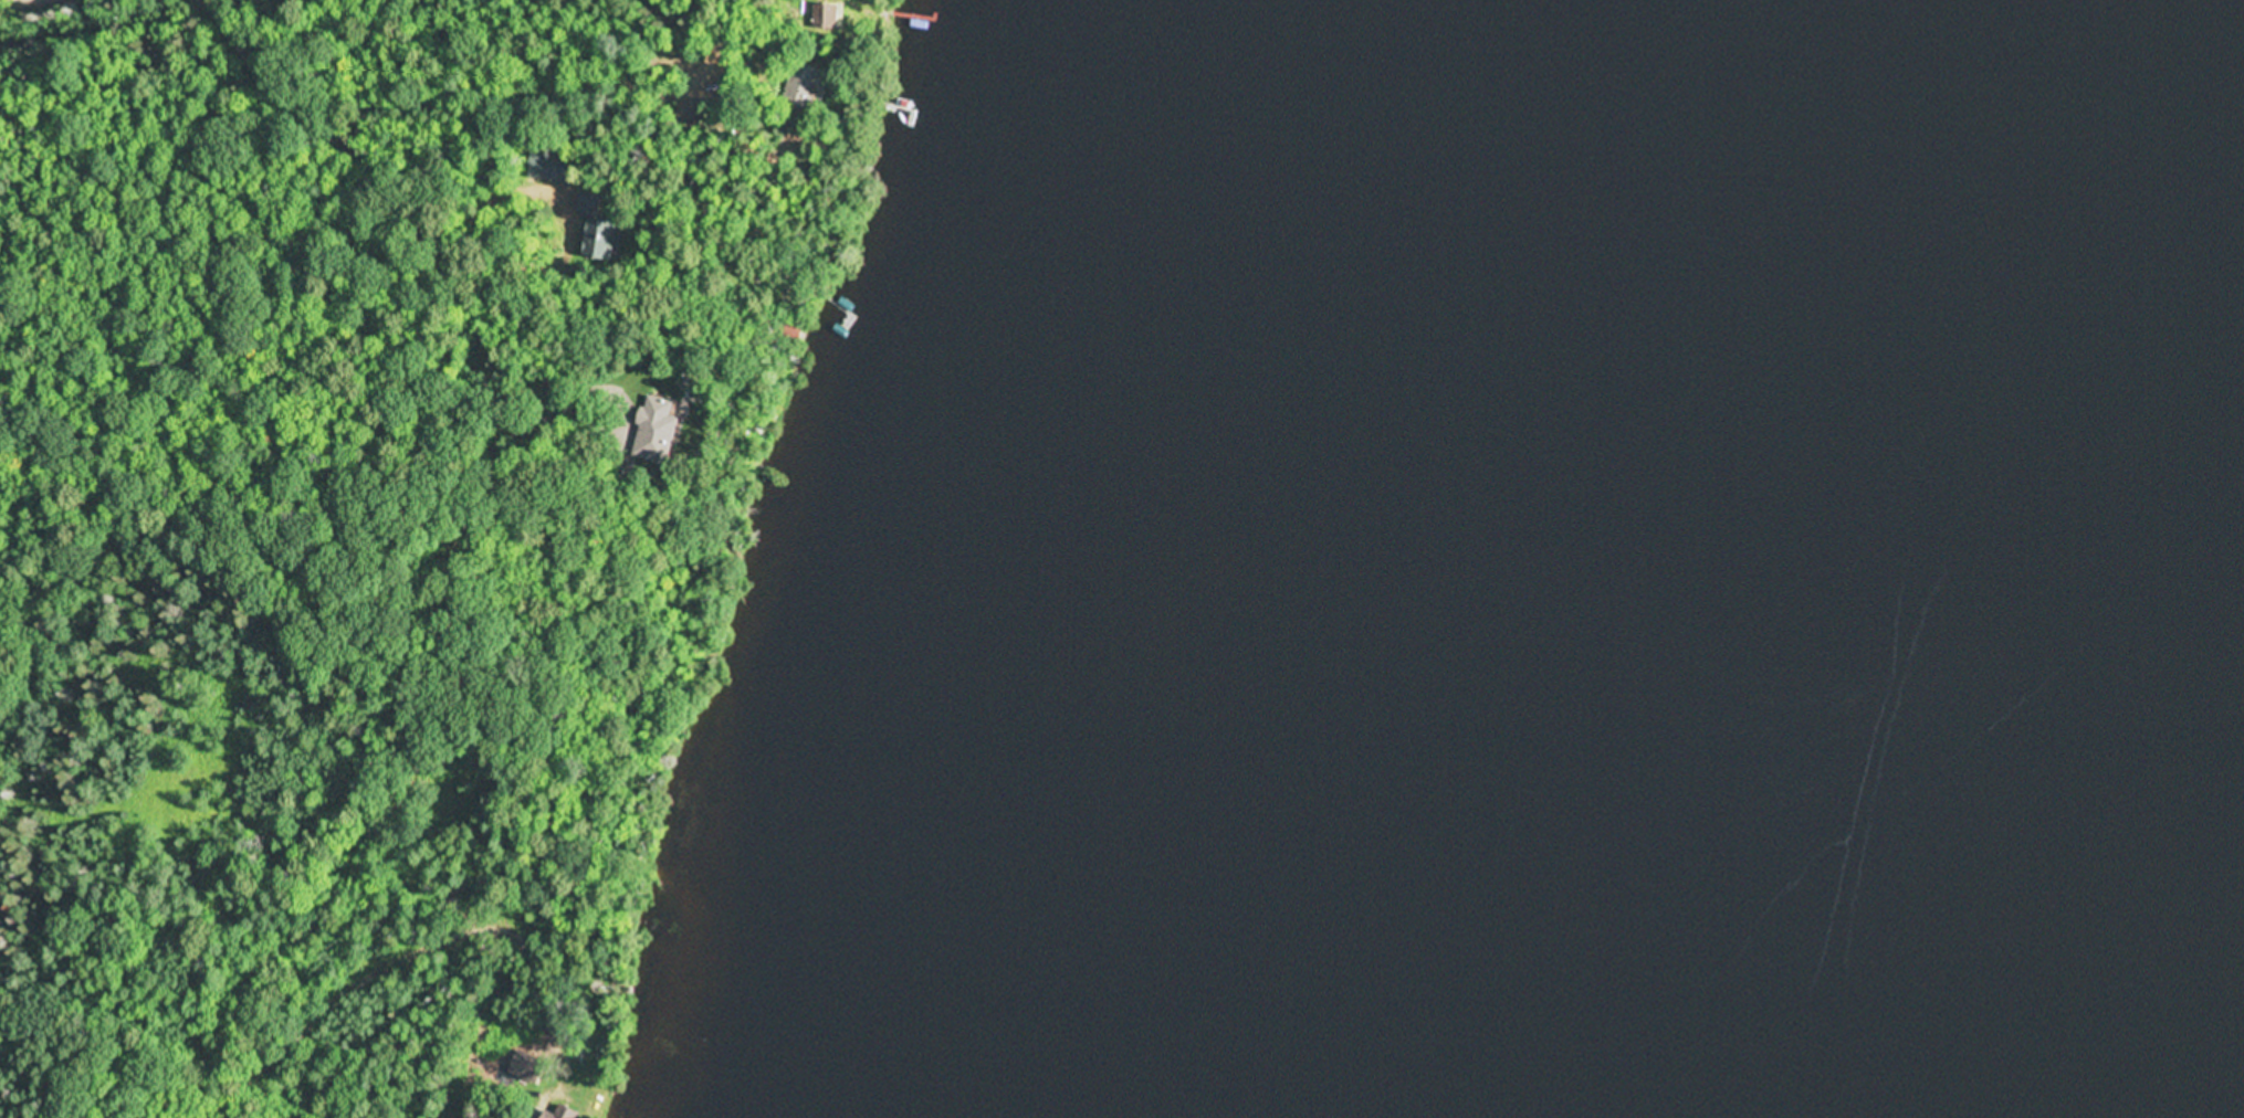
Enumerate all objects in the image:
building: (829, 14)
road: (346, 27)
building: (801, 83)
road: (399, 95)
road: (497, 114)
river: (2046, 204)
building: (600, 240)
building: (656, 418)
road: (513, 494)
road: (548, 726)
river: (1640, 742)
road: (574, 770)
road: (482, 1013)
road: (290, 1041)
road: (413, 1095)

